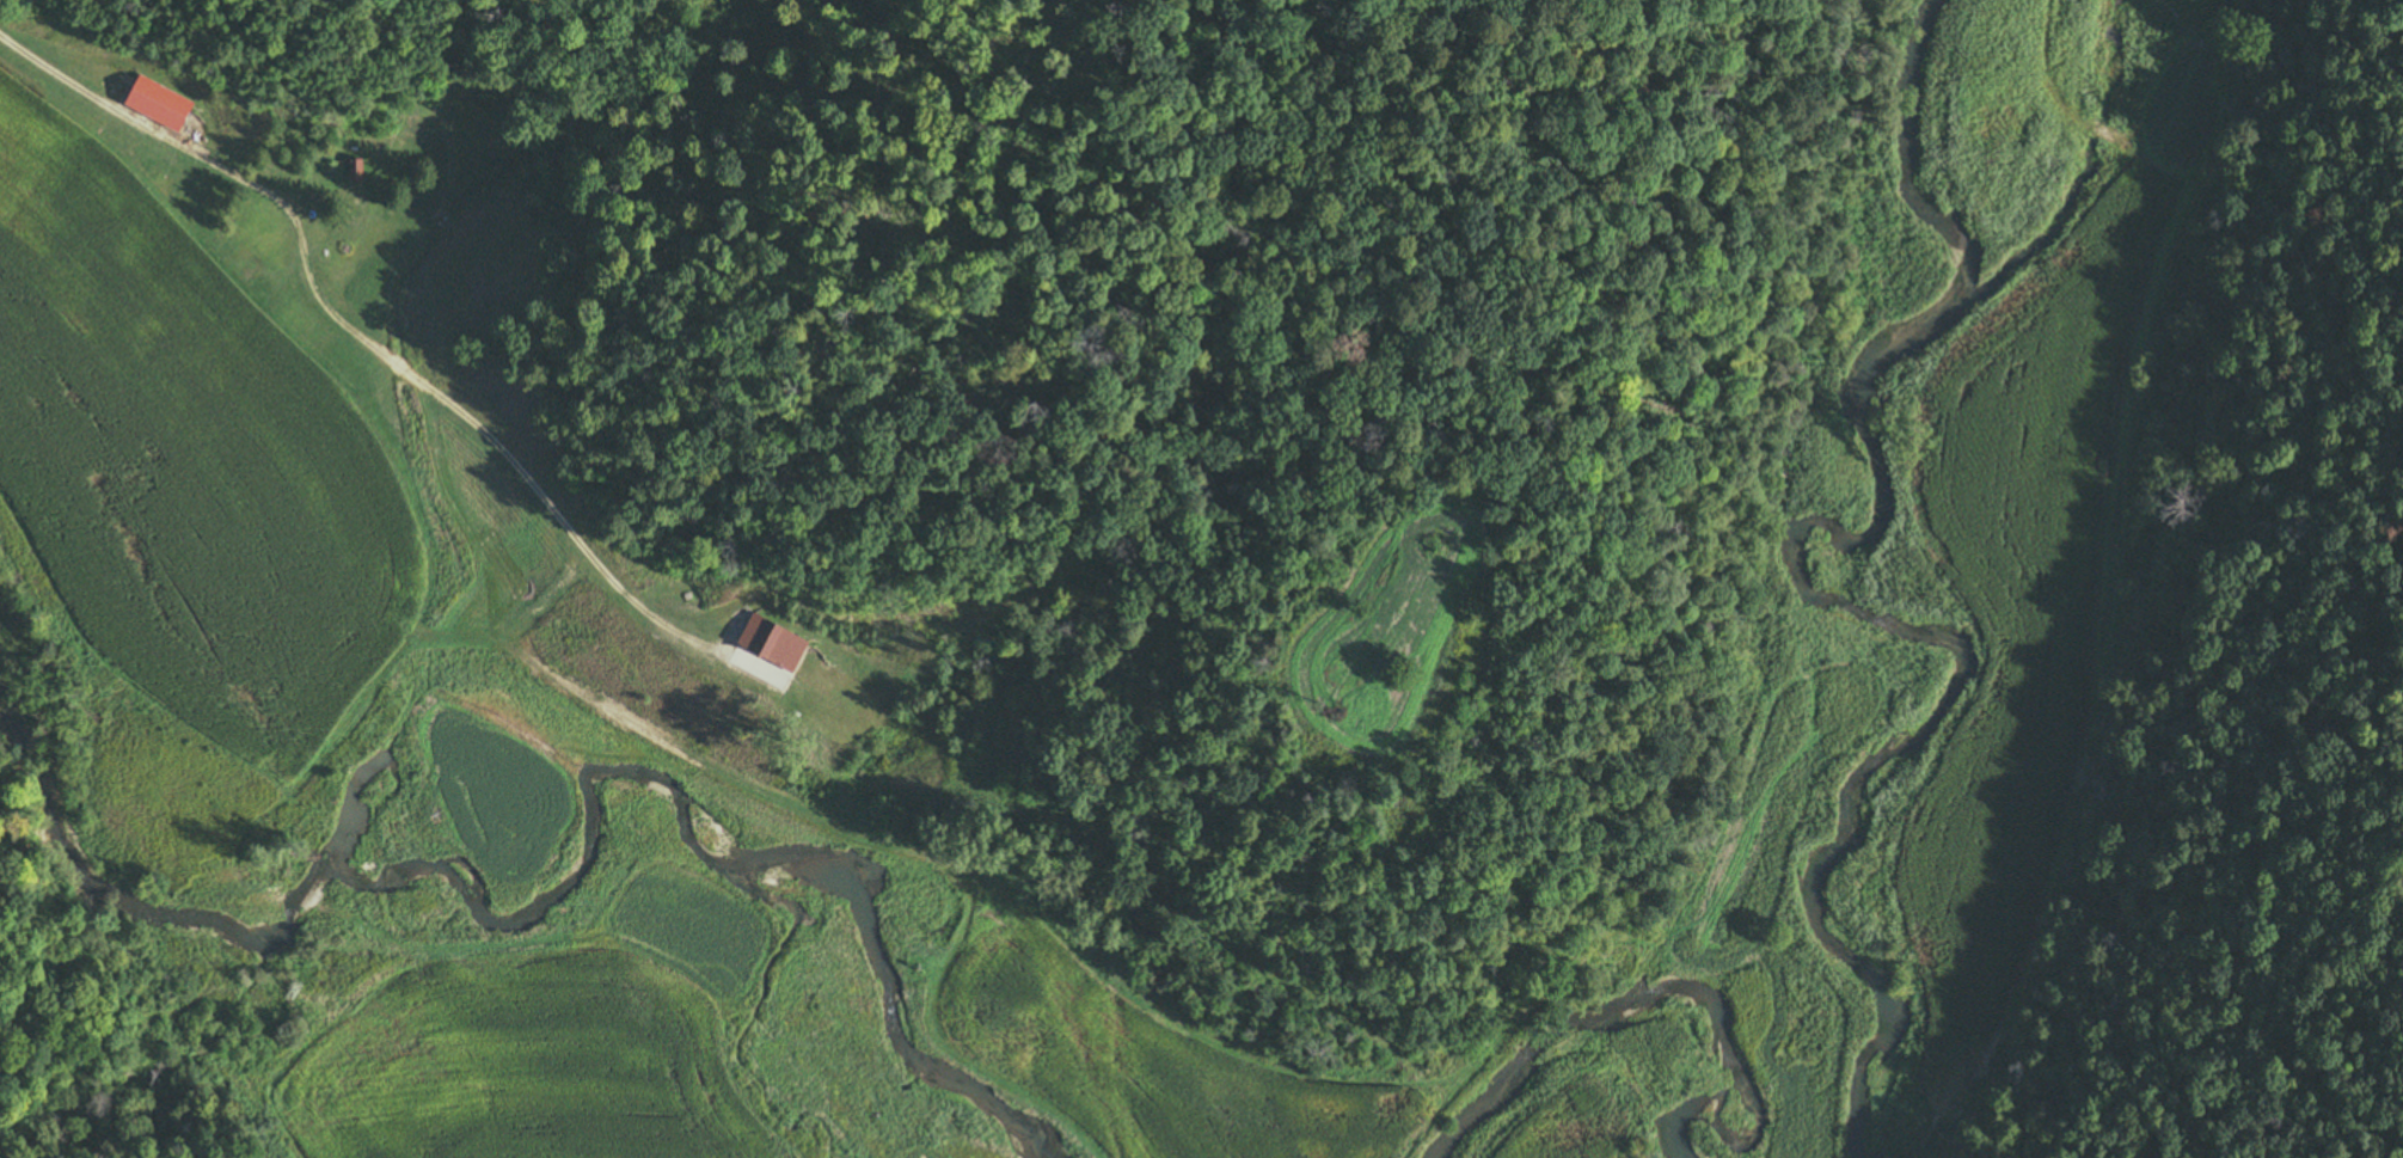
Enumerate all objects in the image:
road: (134, 112)
building: (348, 170)
road: (496, 424)
building: (756, 642)

